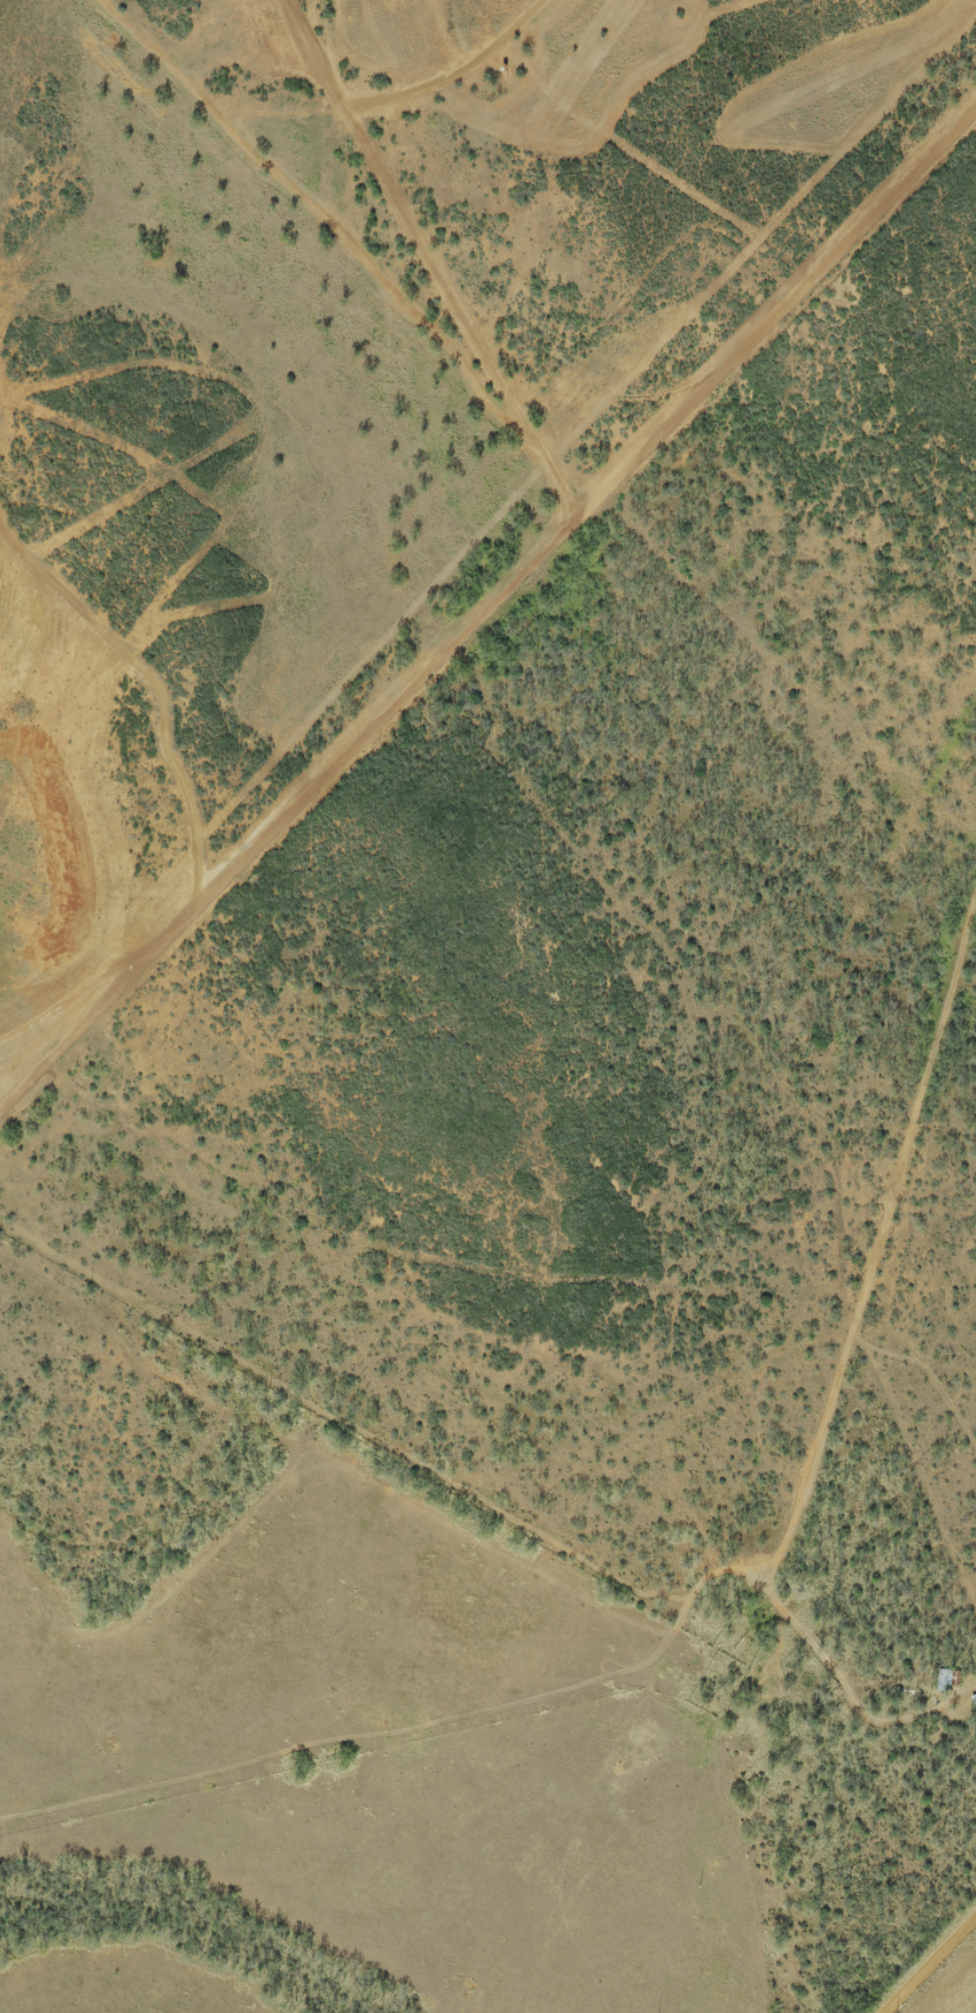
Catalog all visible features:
road: (434, 329)
road: (491, 617)
road: (852, 1152)
road: (828, 1846)
road: (917, 1951)

